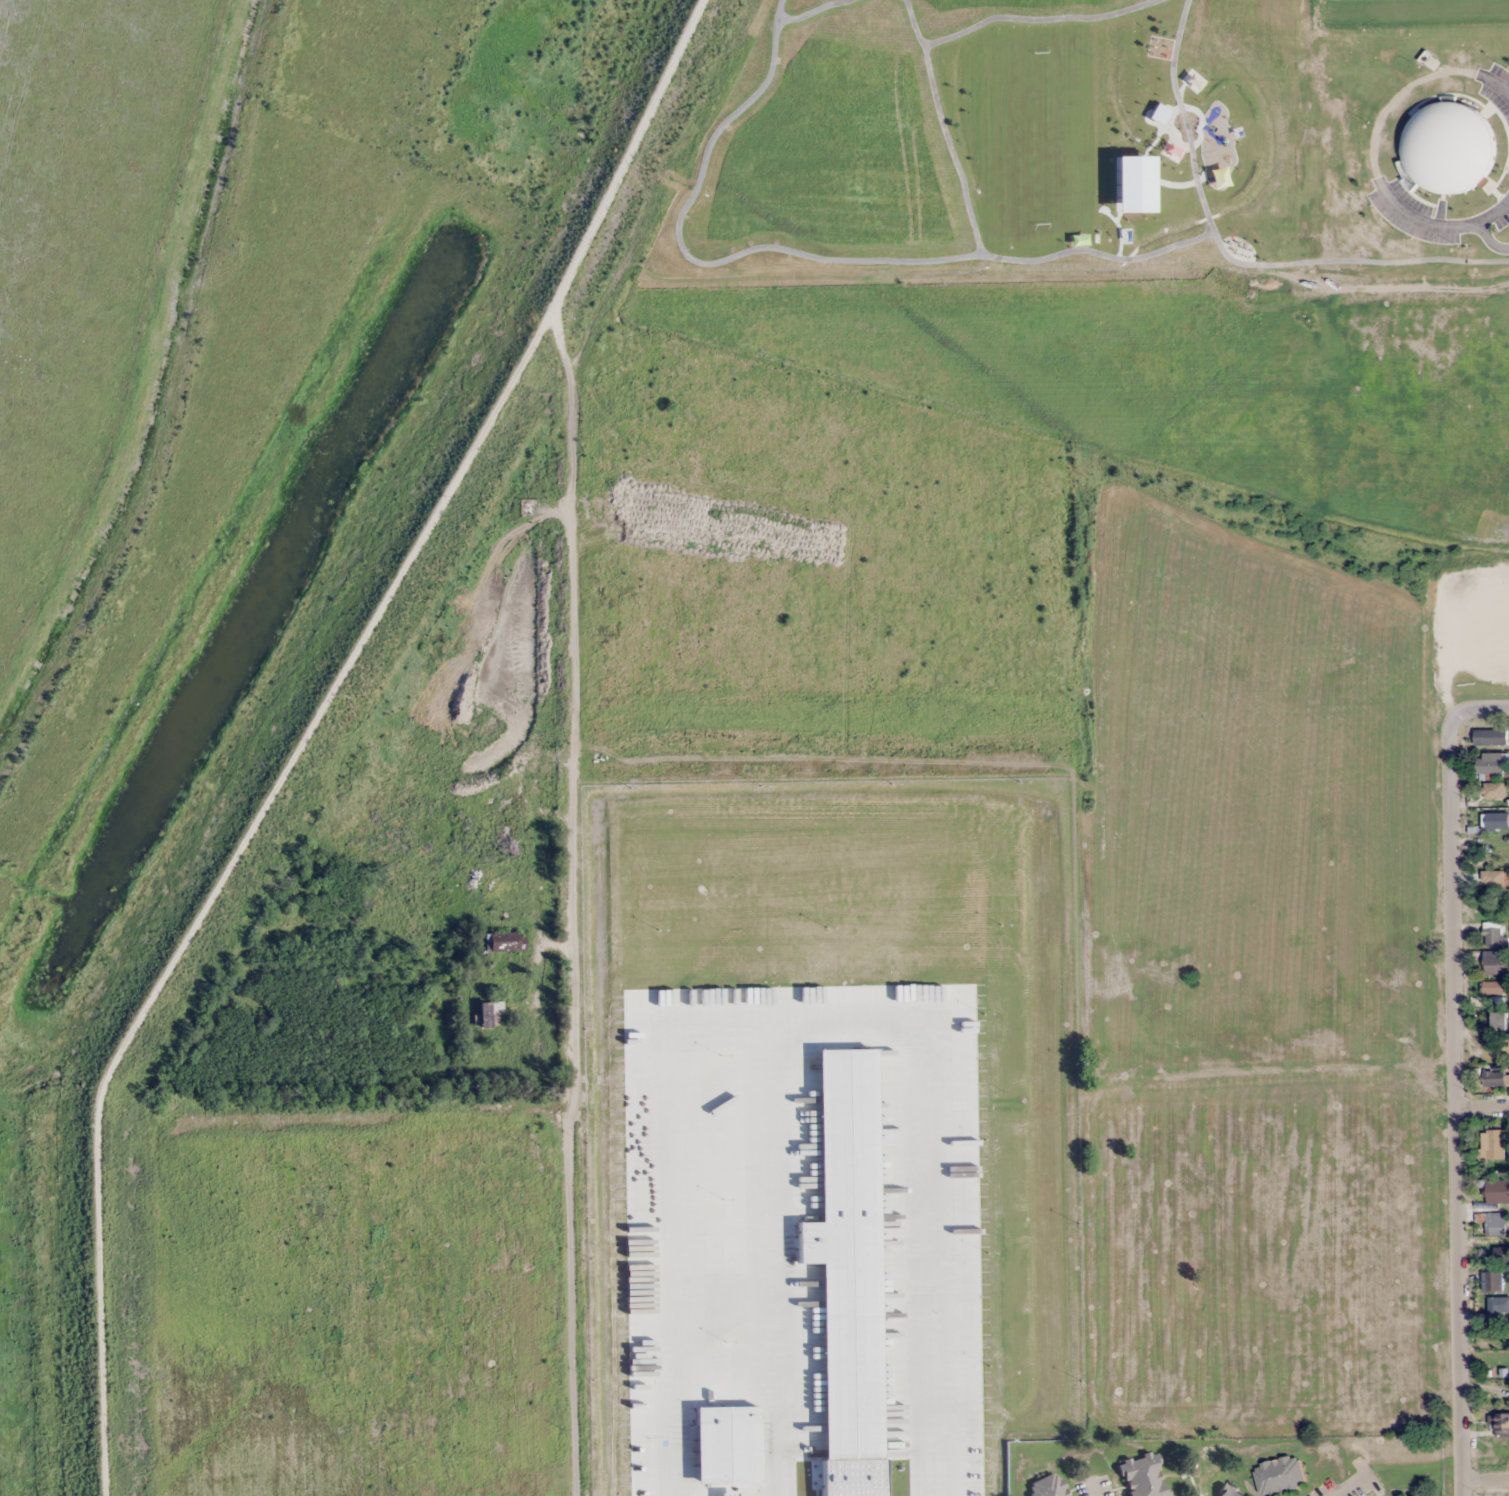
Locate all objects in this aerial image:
building: (1497, 158)
park: (1481, 180)
road: (1481, 710)
road: (582, 728)
building: (1491, 737)
building: (491, 758)
building: (1492, 765)
building: (1493, 790)
building: (487, 797)
building: (1496, 820)
building: (487, 833)
building: (1495, 884)
building: (493, 893)
road: (221, 906)
building: (1494, 935)
building: (505, 942)
building: (1496, 963)
building: (1495, 991)
building: (490, 1013)
building: (1499, 1022)
building: (1496, 1078)
road: (1482, 1106)
road: (1455, 1107)
building: (1494, 1144)
building: (1497, 1191)
building: (1496, 1224)
building: (1501, 1254)
building: (1495, 1282)
building: (1497, 1308)
building: (1499, 1424)
building: (1279, 1475)
building: (1142, 1476)
road: (1484, 1477)
building: (1047, 1487)
building: (1229, 1491)

